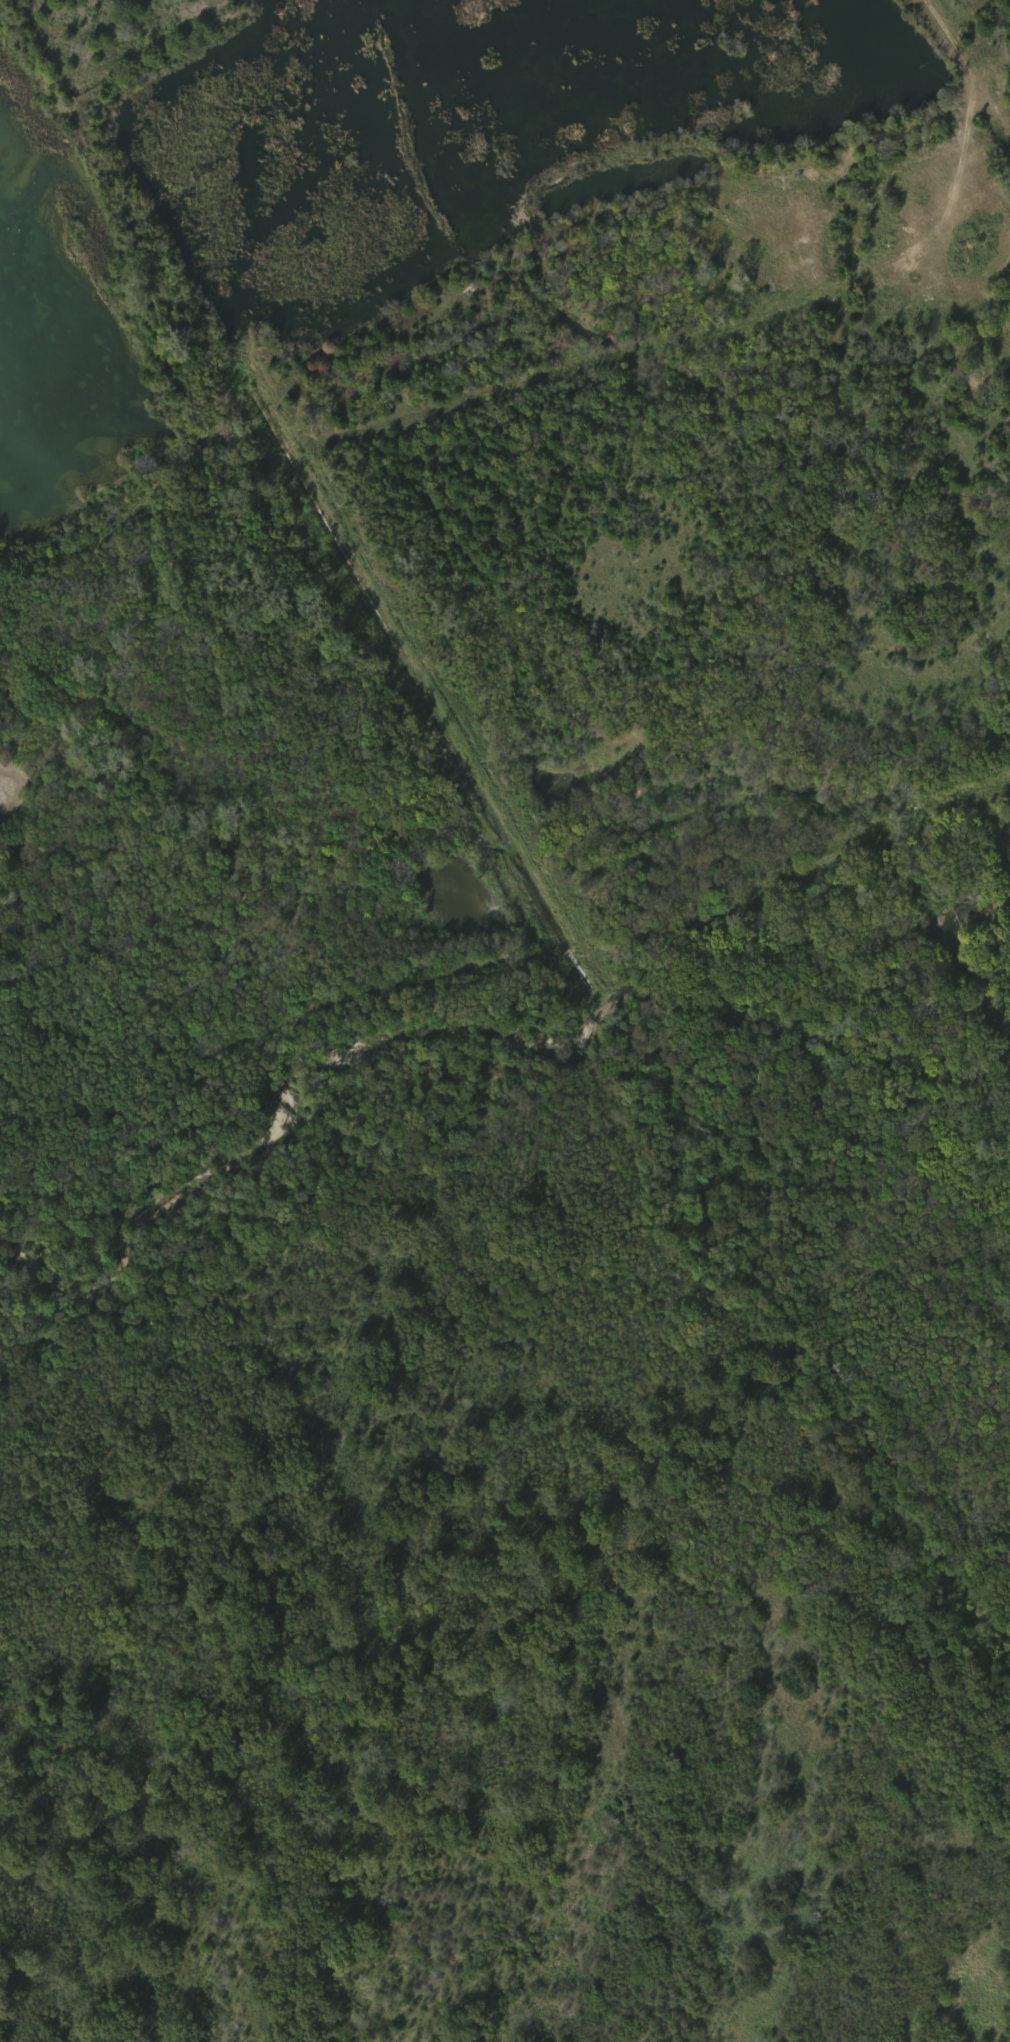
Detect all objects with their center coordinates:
road: (971, 61)
road: (922, 272)
road: (967, 289)
road: (934, 320)

